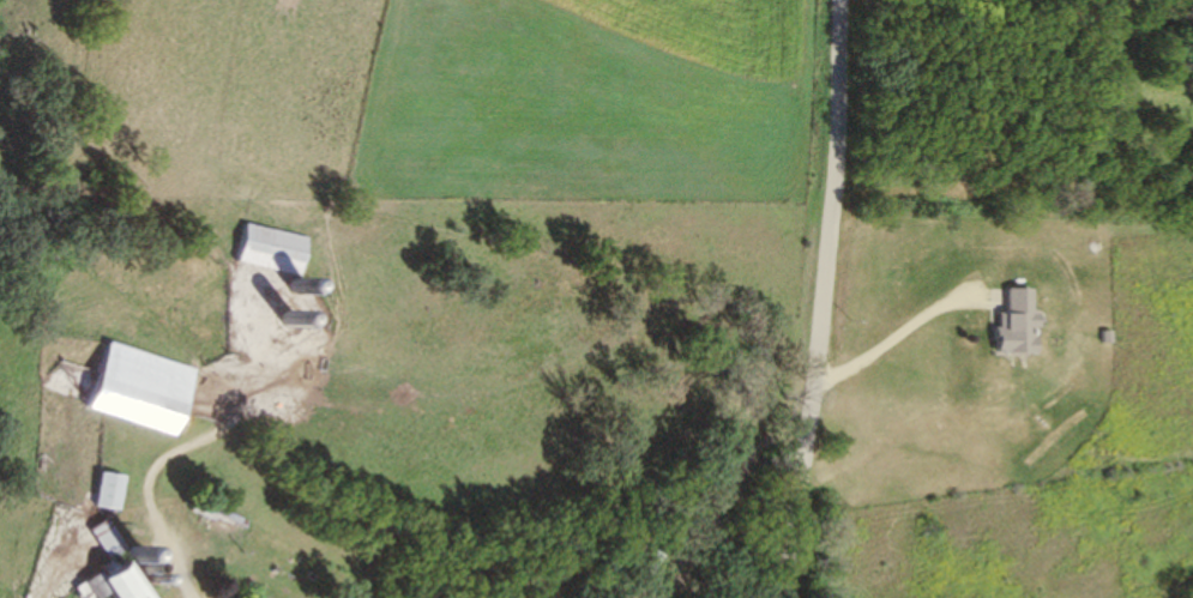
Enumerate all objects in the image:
building: (269, 252)
road: (825, 300)
building: (1011, 325)
road: (894, 333)
building: (137, 391)
building: (104, 493)
building: (103, 542)
building: (109, 584)

